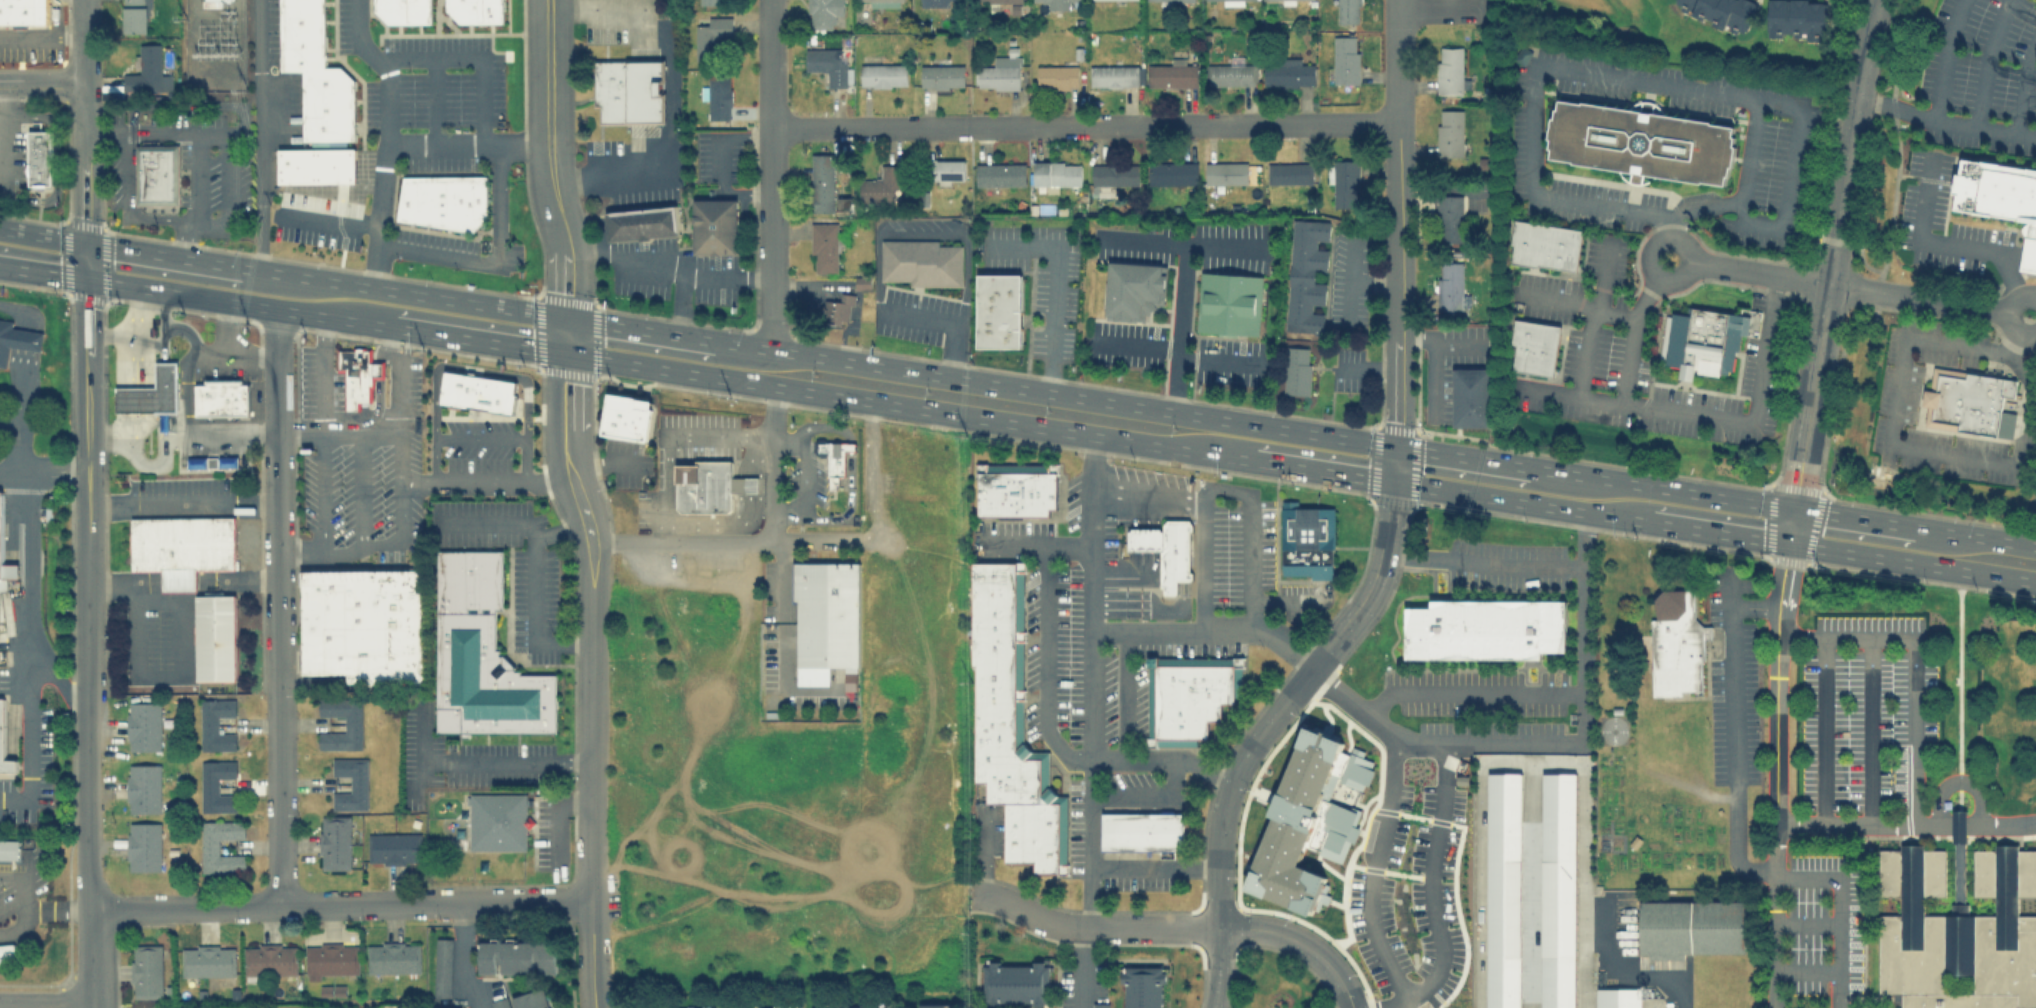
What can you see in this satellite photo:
building: (1170, 0)
building: (1263, 0)
building: (998, 1)
building: (709, 2)
building: (884, 2)
building: (1224, 2)
building: (210, 3)
building: (1051, 3)
building: (403, 10)
building: (475, 10)
building: (25, 11)
building: (1346, 11)
road: (1440, 11)
building: (1722, 12)
building: (824, 13)
building: (135, 16)
building: (1797, 18)
road: (42, 33)
building: (711, 38)
road: (84, 40)
power substation: (212, 45)
parking lot: (31, 52)
road: (475, 56)
building: (1345, 59)
road: (1946, 59)
road: (1986, 61)
road: (1396, 63)
building: (828, 65)
road: (768, 66)
building: (1450, 69)
building: (147, 71)
building: (1000, 71)
building: (1287, 72)
building: (315, 73)
building: (1231, 73)
building: (1113, 74)
building: (883, 75)
building: (1171, 75)
building: (942, 76)
building: (1056, 76)
road: (42, 81)
road: (2025, 88)
building: (628, 91)
road: (669, 91)
road: (1532, 94)
building: (718, 95)
road: (434, 100)
road: (183, 105)
road: (1945, 121)
road: (173, 129)
road: (1083, 129)
building: (1449, 132)
road: (261, 133)
road: (3, 137)
road: (385, 137)
building: (1640, 141)
road: (467, 144)
road: (1751, 150)
building: (39, 157)
parking lot: (10, 159)
road: (55, 159)
parking lot: (190, 160)
road: (720, 163)
building: (317, 164)
building: (946, 170)
road: (1, 172)
building: (1225, 172)
building: (1288, 172)
building: (999, 173)
building: (1057, 173)
building: (1171, 173)
building: (157, 174)
road: (199, 174)
road: (551, 176)
building: (1112, 176)
road: (1789, 176)
road: (1397, 178)
road: (86, 179)
building: (822, 182)
building: (1344, 182)
building: (881, 183)
road: (225, 194)
building: (2001, 197)
building: (443, 200)
road: (126, 205)
building: (843, 205)
road: (1702, 208)
road: (329, 217)
building: (1450, 217)
building: (641, 222)
building: (714, 225)
road: (43, 234)
road: (1918, 236)
road: (186, 237)
road: (770, 239)
traffic signals: (87, 241)
road: (877, 242)
fountain: (485, 244)
building: (1544, 245)
road: (1687, 245)
building: (823, 246)
road: (1224, 247)
road: (163, 253)
road: (2028, 255)
road: (491, 258)
building: (920, 262)
road: (665, 263)
road: (2006, 263)
road: (44, 270)
road: (1829, 270)
road: (1396, 274)
building: (1305, 275)
traffic signals: (88, 277)
road: (1350, 279)
building: (861, 281)
road: (1056, 282)
road: (1373, 283)
road: (1848, 286)
building: (1451, 287)
building: (1133, 288)
road: (402, 289)
road: (1185, 289)
road: (238, 301)
road: (681, 301)
building: (1228, 302)
road: (1574, 302)
building: (837, 308)
building: (998, 310)
road: (18, 311)
road: (2005, 314)
traffic signals: (565, 315)
road: (1594, 315)
road: (163, 324)
road: (225, 326)
road: (640, 326)
road: (109, 334)
road: (130, 335)
road: (1631, 336)
road: (148, 337)
road: (478, 337)
building: (15, 339)
road: (26, 339)
building: (1701, 340)
road: (382, 342)
road: (1142, 345)
road: (1458, 345)
building: (1534, 345)
traffic signals: (566, 351)
road: (208, 353)
road: (1218, 361)
road: (1433, 361)
road: (473, 368)
road: (1367, 368)
road: (379, 369)
building: (1295, 370)
building: (357, 374)
road: (22, 383)
road: (163, 385)
road: (1055, 391)
building: (151, 392)
road: (185, 392)
building: (477, 392)
building: (1471, 396)
road: (131, 399)
building: (221, 399)
road: (1396, 399)
road: (325, 400)
building: (1968, 402)
road: (910, 406)
road: (1707, 414)
building: (627, 416)
road: (368, 418)
road: (401, 418)
road: (9, 419)
road: (667, 434)
road: (787, 434)
road: (110, 435)
road: (479, 435)
road: (220, 438)
traffic signals: (1396, 445)
road: (1895, 447)
road: (1462, 455)
road: (524, 456)
road: (435, 457)
building: (834, 457)
building: (228, 460)
building: (195, 461)
building: (212, 461)
road: (602, 463)
road: (44, 464)
road: (148, 464)
road: (567, 467)
road: (848, 469)
road: (1324, 469)
road: (803, 476)
road: (463, 477)
road: (547, 477)
traffic signals: (1394, 480)
building: (708, 486)
road: (1660, 486)
building: (1015, 489)
road: (1238, 491)
road: (277, 497)
road: (1520, 500)
road: (157, 504)
traffic signals: (1793, 506)
road: (1148, 510)
road: (1853, 515)
road: (787, 519)
road: (876, 519)
road: (557, 528)
road: (1717, 531)
road: (1975, 534)
building: (2, 537)
road: (680, 539)
building: (1144, 539)
building: (1307, 540)
traffic signals: (1787, 542)
road: (382, 545)
road: (1038, 545)
building: (182, 547)
road: (322, 552)
building: (1174, 554)
road: (535, 558)
road: (1204, 558)
road: (1481, 560)
road: (1911, 561)
road: (780, 572)
road: (29, 573)
building: (7, 574)
road: (1371, 582)
road: (90, 592)
road: (1754, 606)
building: (825, 618)
building: (362, 624)
building: (1485, 628)
building: (215, 637)
building: (1675, 643)
building: (482, 653)
road: (1046, 665)
road: (1911, 667)
road: (157, 676)
parking lot: (1732, 676)
road: (1091, 680)
road: (1470, 691)
road: (1127, 693)
building: (1188, 695)
parking lot: (1865, 710)
road: (29, 722)
building: (352, 722)
building: (1010, 722)
building: (215, 723)
building: (143, 725)
road: (1825, 732)
road: (1869, 733)
road: (1731, 735)
road: (590, 741)
road: (1433, 743)
parking lot: (26, 744)
building: (5, 746)
road: (1163, 757)
road: (1532, 761)
road: (478, 763)
road: (1777, 774)
road: (1958, 781)
building: (351, 783)
building: (216, 785)
road: (1230, 785)
building: (143, 787)
road: (1151, 796)
road: (280, 797)
road: (557, 818)
building: (1308, 819)
building: (497, 820)
road: (2000, 826)
road: (1864, 827)
road: (1958, 827)
building: (1141, 830)
building: (333, 841)
building: (144, 846)
building: (210, 846)
building: (393, 847)
building: (9, 850)
road: (983, 853)
road: (1154, 866)
road: (1371, 868)
road: (25, 869)
road: (1532, 884)
building: (1558, 889)
building: (1503, 890)
road: (1431, 891)
road: (717, 902)
road: (507, 903)
road: (259, 906)
road: (39, 908)
road: (1839, 911)
road: (1807, 922)
building: (1692, 925)
building: (1957, 927)
road: (1094, 928)
parking lot: (1823, 932)
road: (1300, 944)
parking lot: (839, 945)
building: (6, 953)
road: (92, 955)
road: (590, 955)
building: (516, 956)
building: (393, 957)
road: (464, 957)
building: (330, 958)
building: (207, 959)
building: (270, 959)
building: (442, 966)
road: (1082, 968)
road: (1219, 968)
building: (146, 971)
road: (1807, 971)
road: (1627, 974)
building: (1016, 982)
road: (750, 985)
building: (1142, 986)
building: (1617, 998)
building: (534, 999)
road: (1650, 1001)
building: (499, 1002)
road: (46, 1004)
road: (92, 1005)
building: (935, 1005)
building: (1100, 1005)
building: (850, 1006)
building: (446, 1007)
building: (675, 1007)
building: (766, 1007)
building: (897, 1007)

